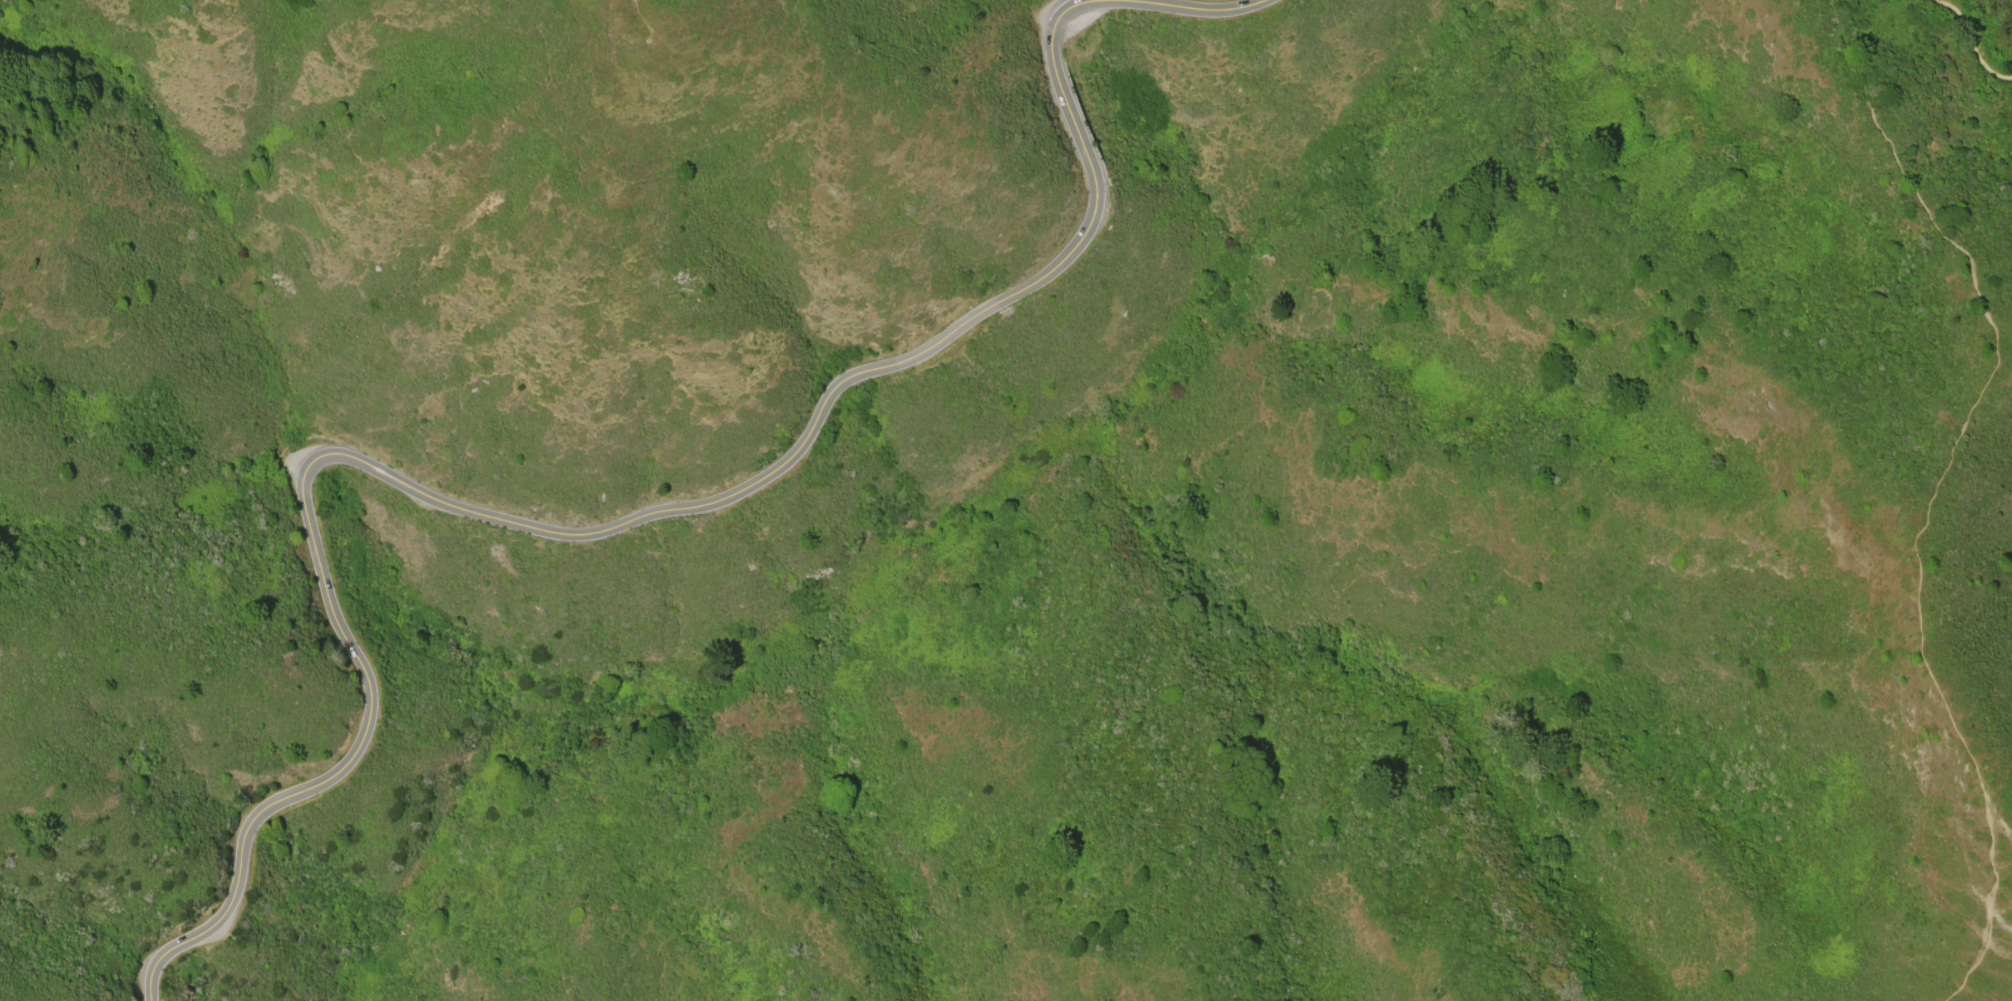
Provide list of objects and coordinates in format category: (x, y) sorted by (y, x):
road: (1971, 39)
road: (1932, 490)
road: (659, 511)
road: (153, 971)

